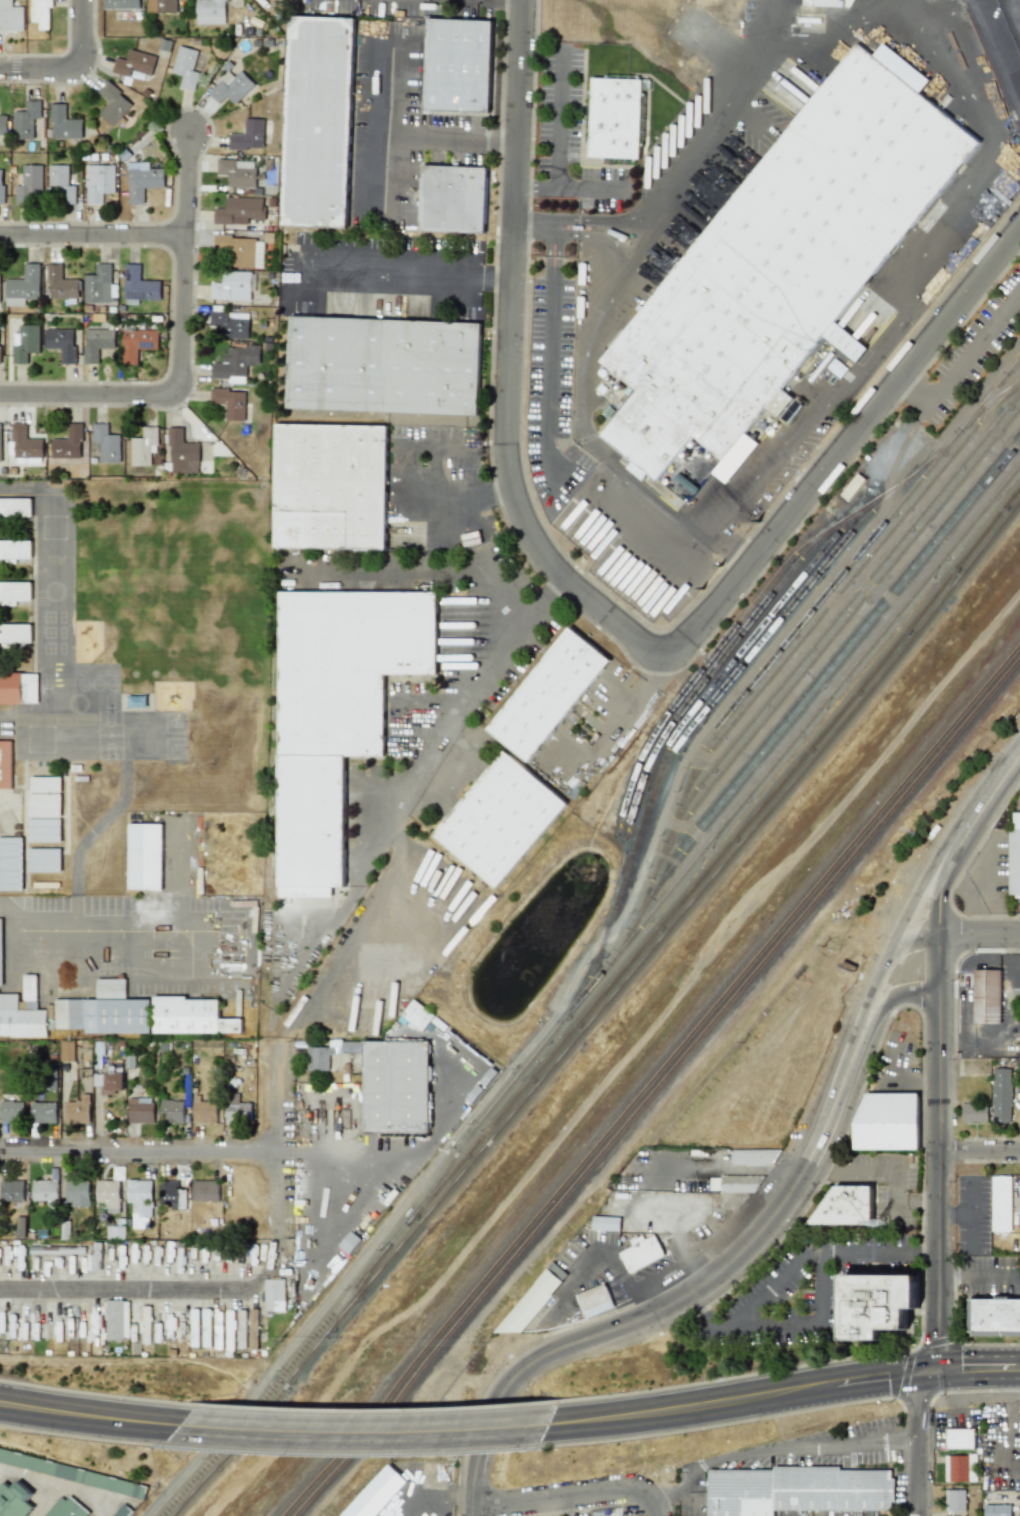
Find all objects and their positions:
building: (829, 2)
road: (892, 2)
building: (121, 4)
road: (1017, 4)
building: (160, 6)
building: (210, 11)
building: (41, 13)
building: (10, 16)
road: (775, 23)
road: (427, 25)
road: (83, 34)
building: (164, 47)
road: (996, 52)
road: (58, 55)
building: (134, 63)
building: (461, 66)
building: (185, 67)
road: (14, 68)
road: (41, 68)
road: (82, 79)
road: (650, 79)
building: (231, 87)
road: (681, 102)
building: (113, 104)
building: (616, 116)
building: (26, 120)
building: (321, 123)
building: (64, 124)
building: (3, 125)
parking lot: (403, 129)
road: (390, 131)
building: (248, 135)
parking lot: (571, 138)
road: (453, 139)
road: (644, 153)
road: (636, 168)
building: (237, 172)
building: (142, 181)
building: (61, 183)
building: (98, 183)
building: (29, 184)
building: (1, 187)
road: (195, 192)
building: (457, 200)
building: (239, 210)
road: (496, 212)
road: (533, 225)
road: (615, 229)
road: (350, 231)
road: (420, 231)
road: (93, 236)
building: (967, 237)
road: (558, 249)
road: (549, 250)
building: (239, 251)
building: (784, 261)
road: (923, 261)
parking lot: (388, 273)
building: (942, 273)
road: (409, 275)
building: (60, 282)
building: (100, 285)
building: (927, 285)
building: (23, 286)
building: (138, 286)
building: (231, 286)
building: (0, 308)
road: (295, 317)
building: (230, 324)
road: (488, 324)
building: (25, 343)
building: (137, 343)
building: (61, 344)
building: (97, 344)
road: (181, 354)
road: (508, 356)
road: (967, 356)
building: (236, 362)
railway: (1012, 364)
building: (387, 367)
road: (549, 386)
parking lot: (552, 390)
railway: (987, 401)
building: (230, 403)
building: (106, 443)
road: (430, 443)
building: (68, 444)
building: (0, 445)
building: (25, 446)
building: (143, 447)
building: (185, 448)
road: (845, 450)
road: (494, 483)
building: (333, 487)
road: (434, 488)
building: (15, 508)
building: (15, 549)
road: (417, 570)
railway: (841, 585)
building: (14, 592)
railway: (791, 602)
railway: (837, 611)
railway: (797, 625)
building: (15, 635)
railway: (828, 636)
railway: (725, 650)
railway: (705, 661)
railway: (833, 666)
railway: (804, 687)
building: (18, 688)
building: (550, 695)
railway: (689, 713)
building: (339, 714)
building: (5, 765)
road: (411, 773)
road: (1015, 773)
building: (45, 784)
road: (995, 790)
building: (44, 805)
building: (502, 821)
building: (43, 830)
railway: (708, 839)
building: (1014, 855)
building: (144, 856)
building: (43, 860)
building: (10, 864)
building: (151, 903)
road: (901, 924)
road: (979, 933)
road: (353, 937)
road: (915, 937)
building: (0, 952)
road: (42, 956)
building: (1011, 969)
building: (110, 988)
building: (987, 995)
road: (888, 997)
railway: (593, 1001)
railway: (599, 1009)
building: (22, 1012)
building: (68, 1014)
building: (417, 1015)
building: (117, 1016)
building: (190, 1016)
building: (98, 1048)
building: (66, 1051)
road: (621, 1065)
building: (51, 1081)
building: (108, 1081)
building: (386, 1082)
railway: (654, 1082)
railway: (659, 1089)
road: (940, 1092)
building: (1001, 1094)
building: (236, 1109)
building: (77, 1110)
building: (140, 1110)
building: (11, 1111)
building: (172, 1111)
building: (204, 1111)
building: (43, 1112)
building: (974, 1112)
building: (888, 1122)
road: (438, 1130)
road: (274, 1142)
road: (980, 1150)
road: (146, 1153)
road: (328, 1154)
building: (755, 1156)
road: (887, 1163)
building: (735, 1183)
building: (43, 1190)
building: (205, 1190)
building: (11, 1191)
building: (76, 1193)
building: (108, 1194)
building: (172, 1195)
building: (139, 1202)
building: (1001, 1203)
building: (846, 1205)
road: (955, 1213)
road: (971, 1214)
building: (605, 1223)
building: (19, 1226)
building: (114, 1232)
building: (349, 1242)
building: (56, 1250)
building: (96, 1252)
building: (570, 1254)
building: (643, 1255)
road: (791, 1260)
building: (558, 1272)
road: (979, 1274)
road: (708, 1280)
building: (549, 1283)
railway: (358, 1287)
road: (154, 1291)
building: (273, 1295)
building: (596, 1302)
building: (876, 1304)
building: (525, 1311)
building: (994, 1317)
building: (117, 1319)
building: (146, 1321)
building: (193, 1321)
building: (95, 1323)
building: (217, 1324)
building: (205, 1327)
road: (805, 1328)
building: (229, 1329)
building: (241, 1329)
building: (252, 1329)
road: (783, 1393)
road: (1008, 1395)
road: (82, 1412)
road: (356, 1432)
building: (960, 1439)
road: (918, 1442)
road: (783, 1454)
road: (840, 1467)
building: (959, 1468)
building: (70, 1473)
road: (472, 1475)
building: (798, 1491)
building: (379, 1494)
road: (571, 1495)
road: (670, 1497)
building: (14, 1500)
building: (955, 1500)
building: (67, 1508)
building: (997, 1510)
building: (124, 1511)

